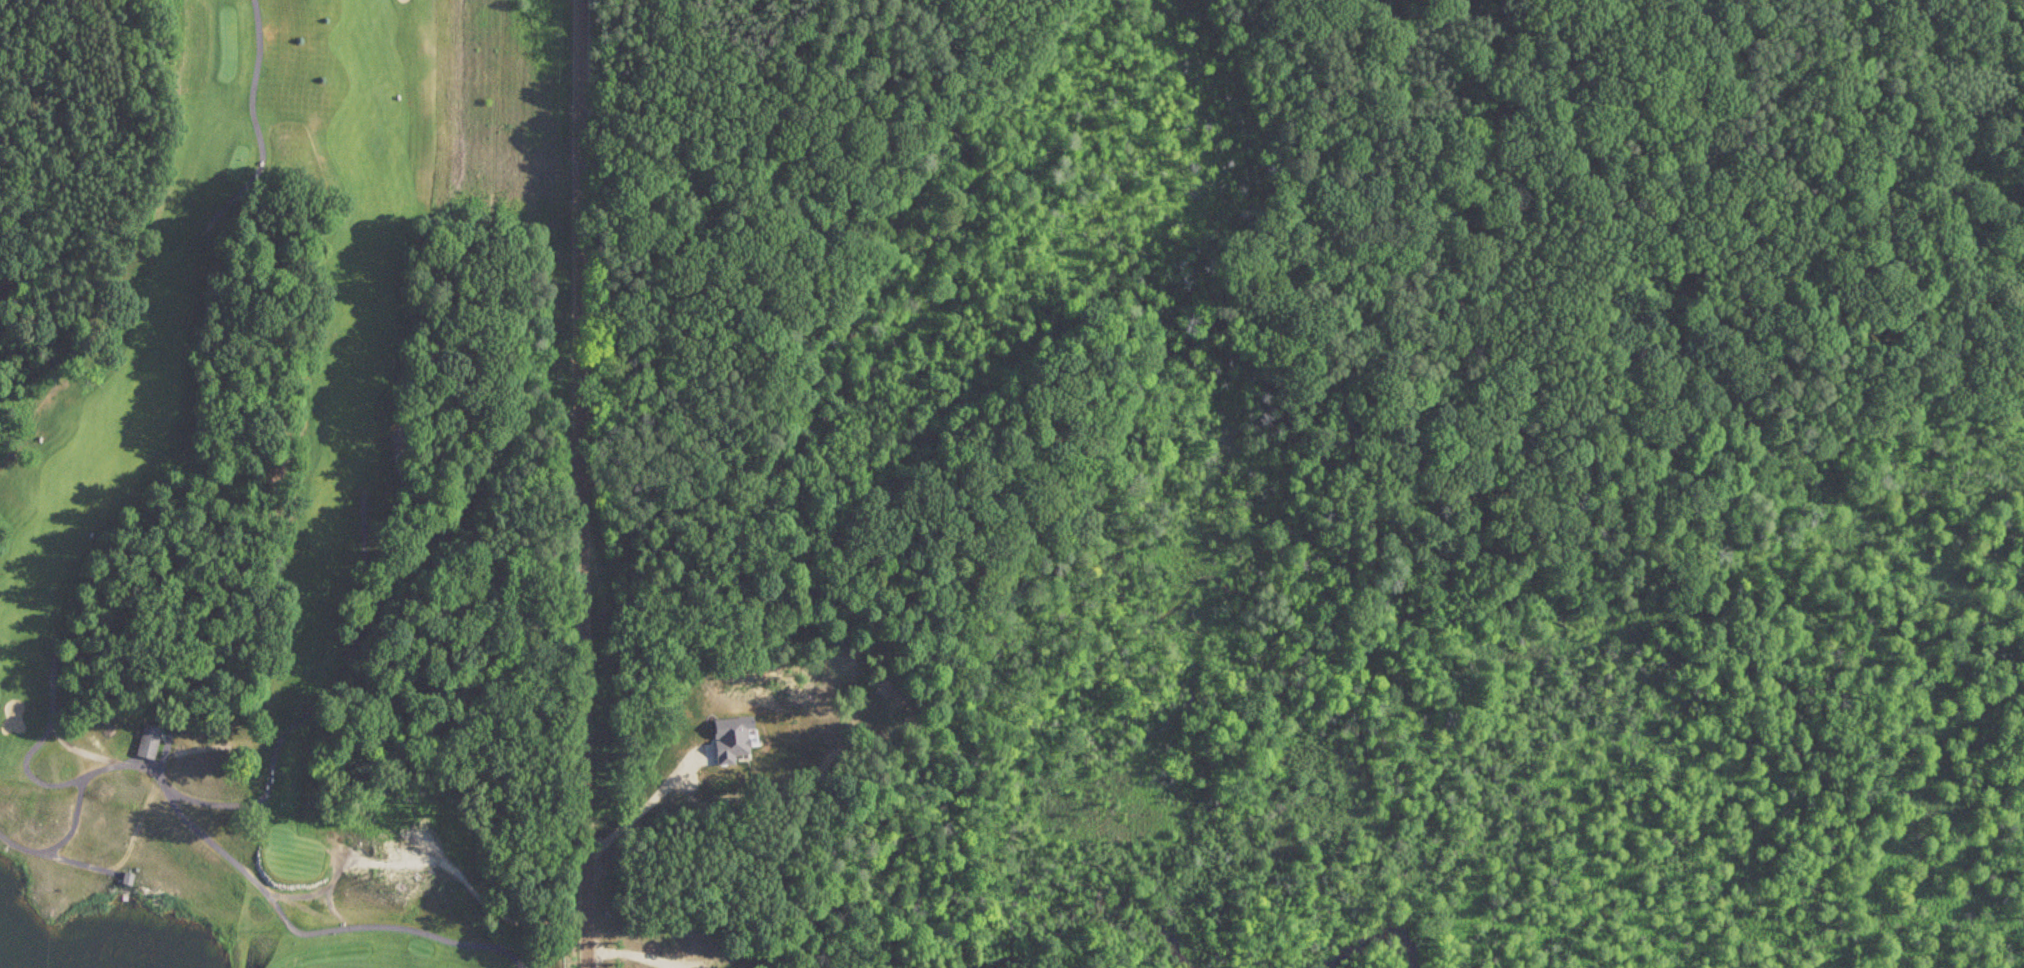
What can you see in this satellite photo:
road: (583, 484)
building: (150, 741)
road: (641, 802)
road: (635, 949)

